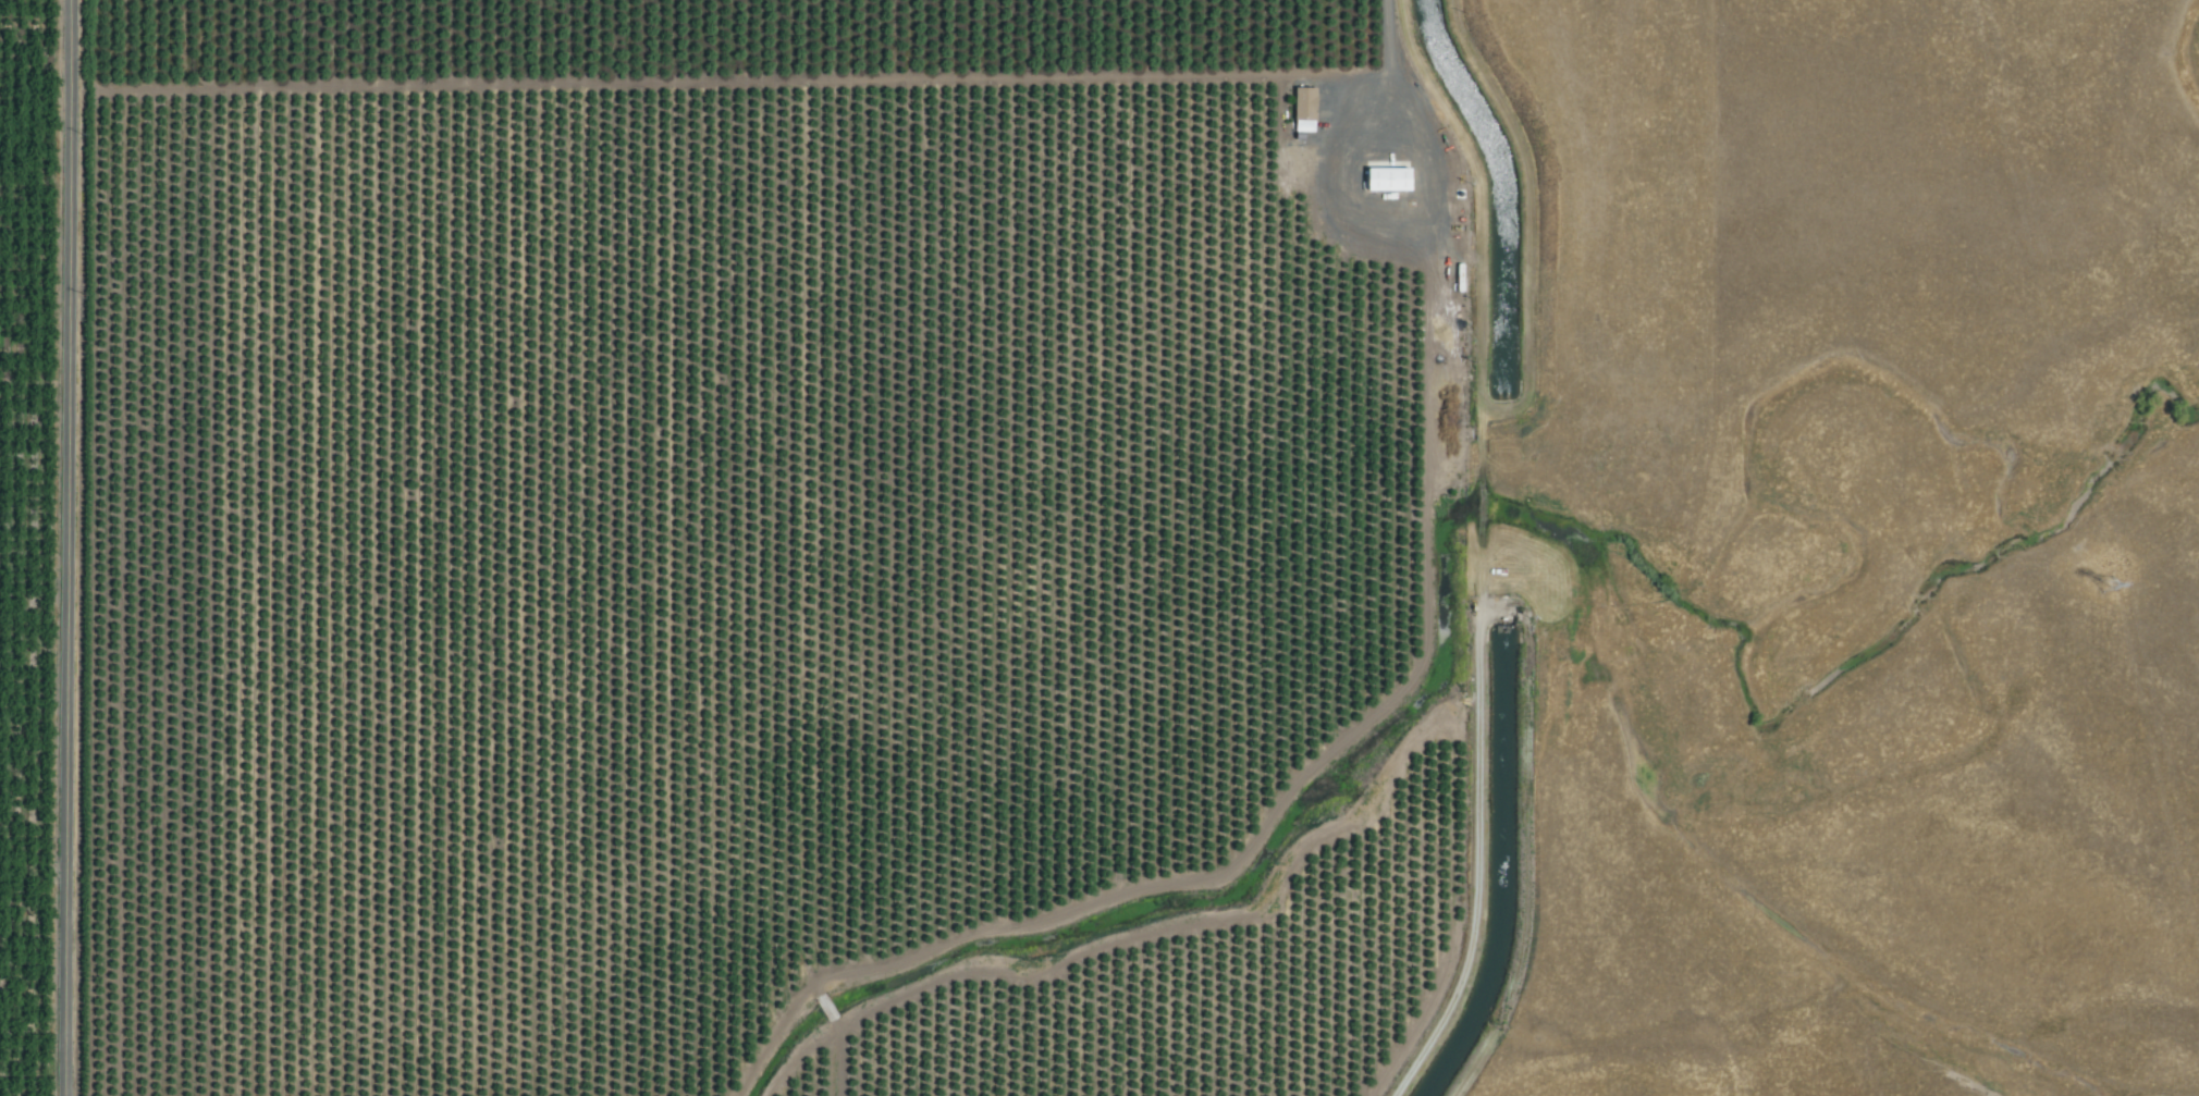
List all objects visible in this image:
road: (66, 547)
power tower: (2103, 587)

